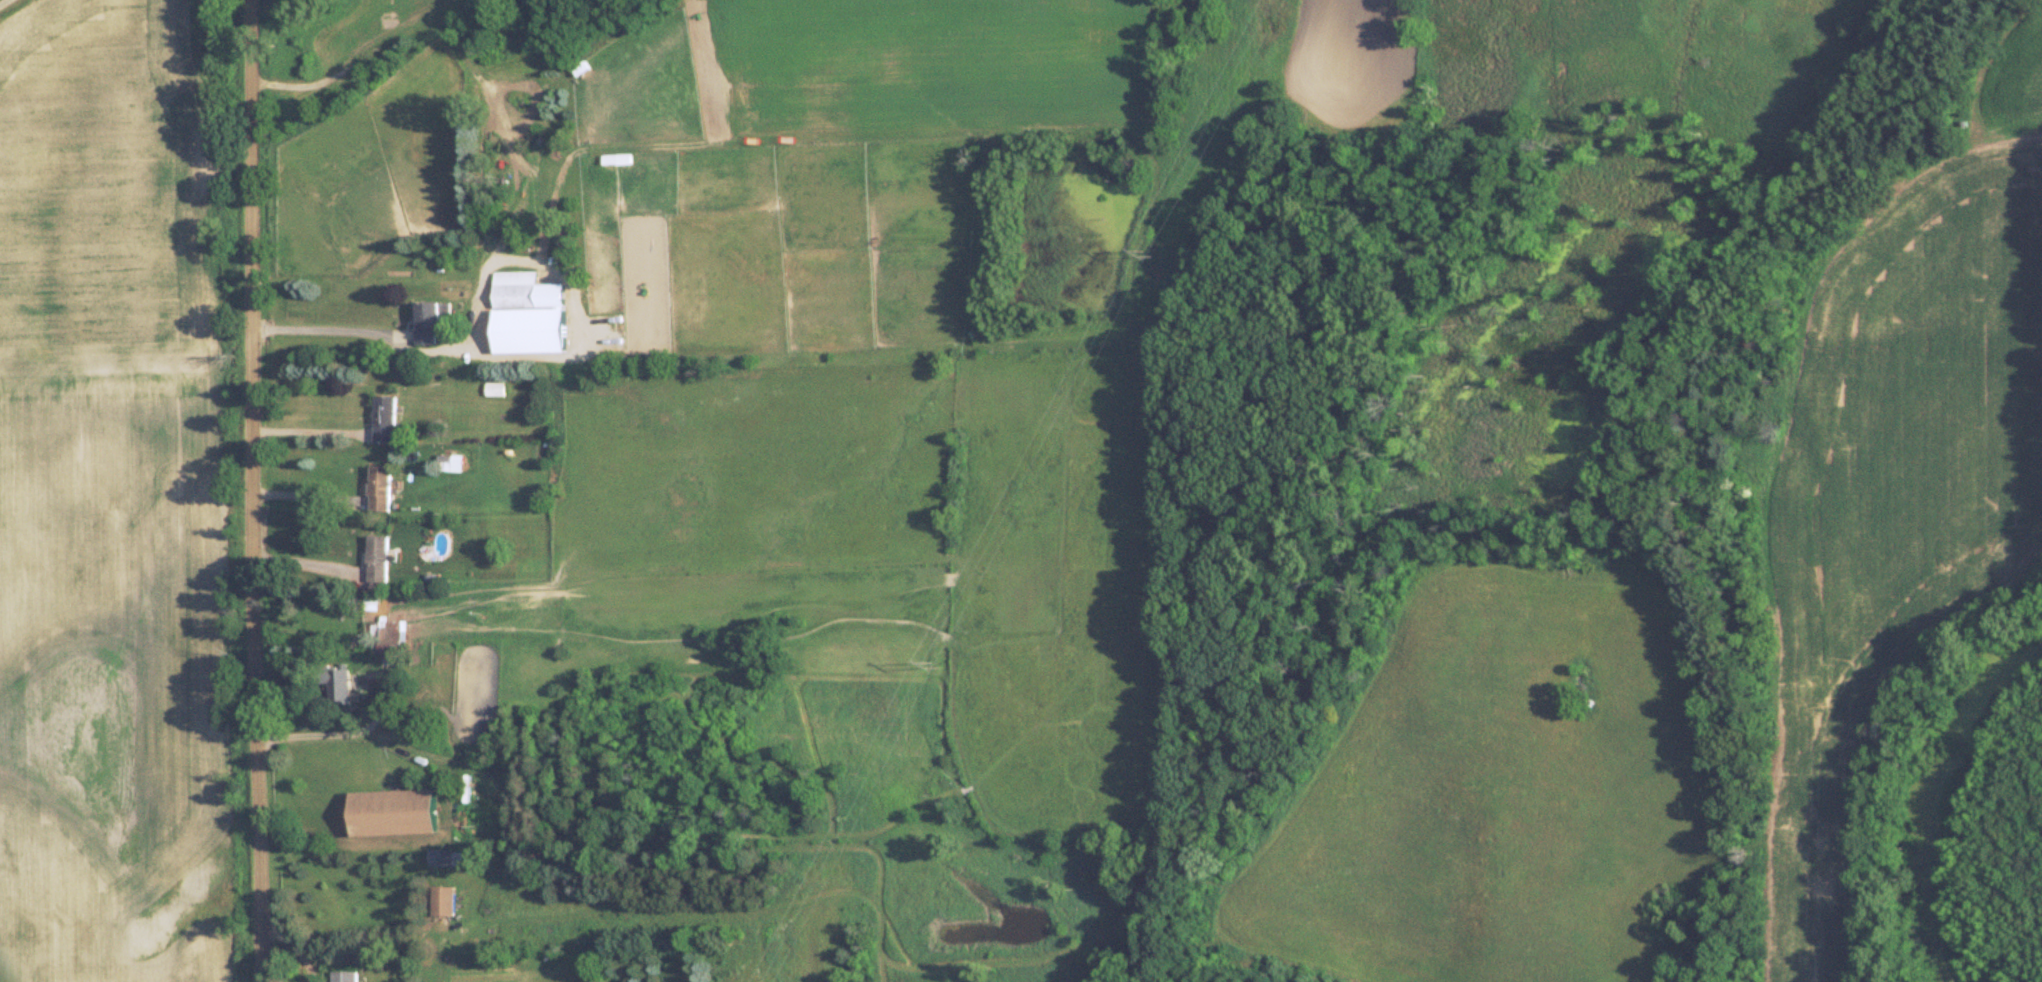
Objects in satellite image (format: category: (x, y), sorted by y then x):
road: (10, 6)
building: (615, 158)
power tower: (1146, 250)
building: (514, 289)
road: (329, 334)
building: (383, 417)
road: (311, 436)
building: (378, 487)
road: (258, 491)
road: (310, 499)
building: (376, 557)
road: (308, 567)
building: (385, 636)
power tower: (933, 660)
building: (335, 683)
road: (344, 737)
building: (391, 810)
building: (443, 857)
building: (441, 899)
building: (343, 975)

